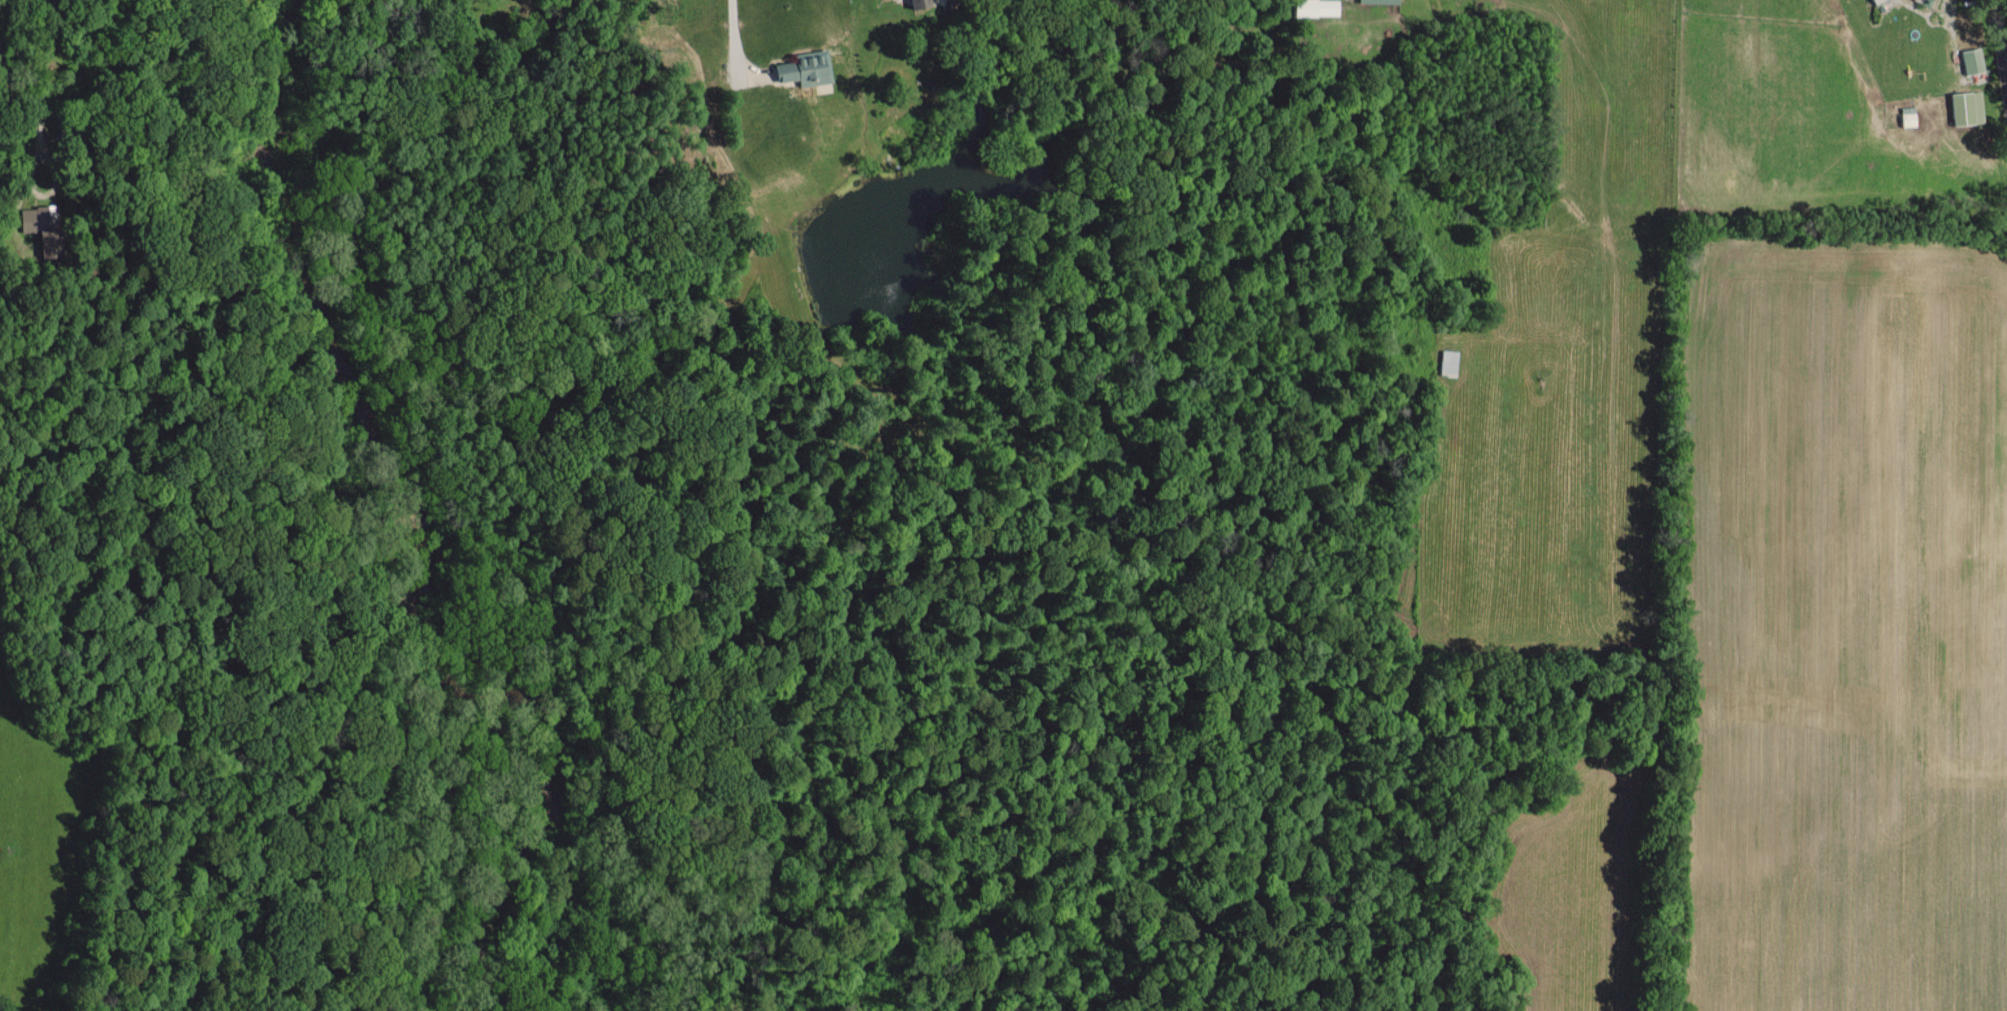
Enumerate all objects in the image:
building: (1382, 1)
building: (1869, 1)
building: (922, 3)
road: (732, 35)
road: (1997, 46)
building: (1968, 60)
building: (809, 68)
building: (1962, 107)
building: (1903, 116)
road: (17, 128)
building: (44, 227)
building: (1450, 361)

